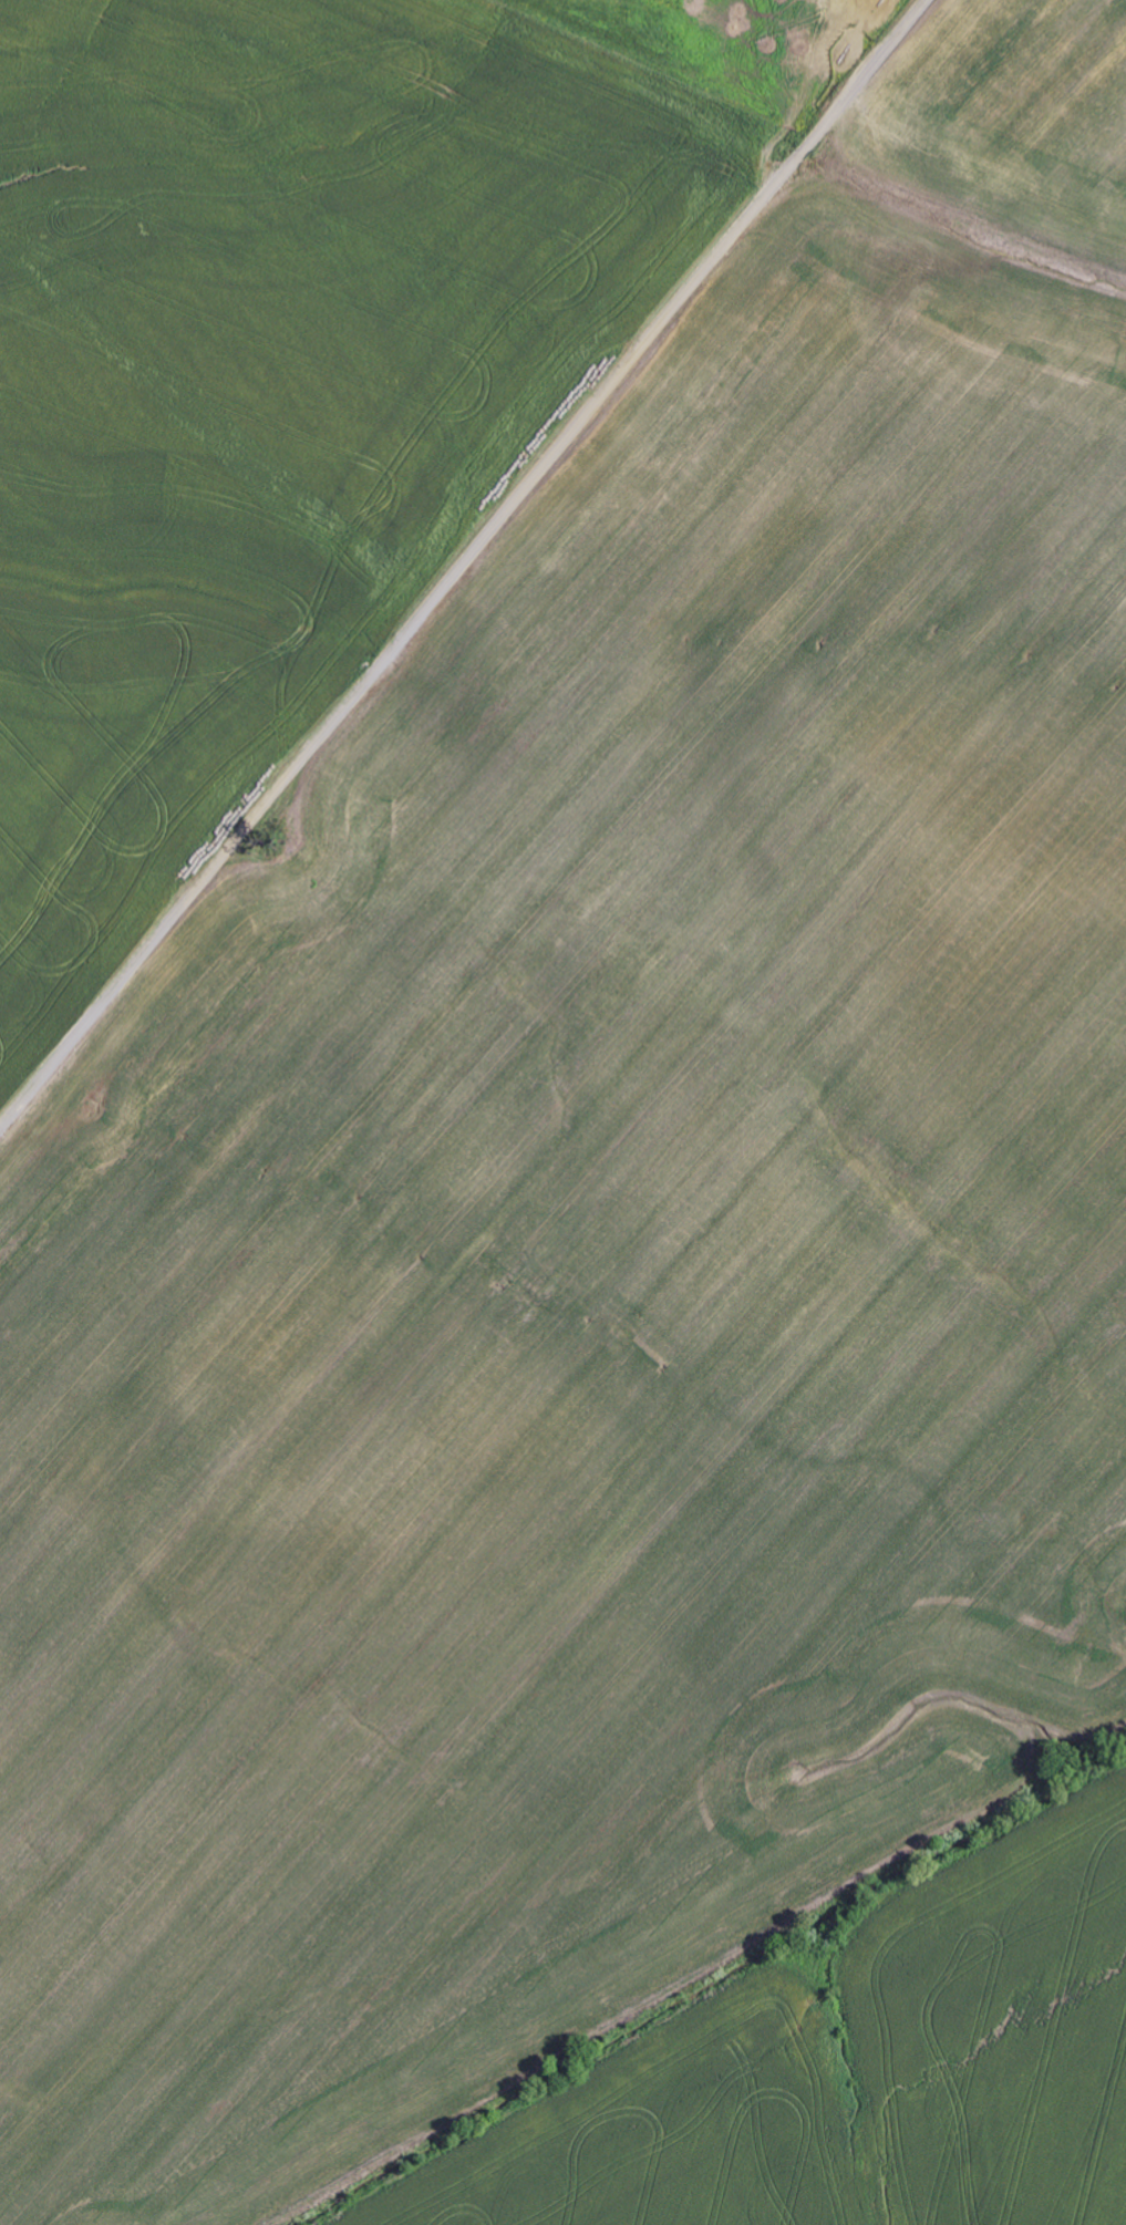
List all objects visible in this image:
road: (474, 561)

